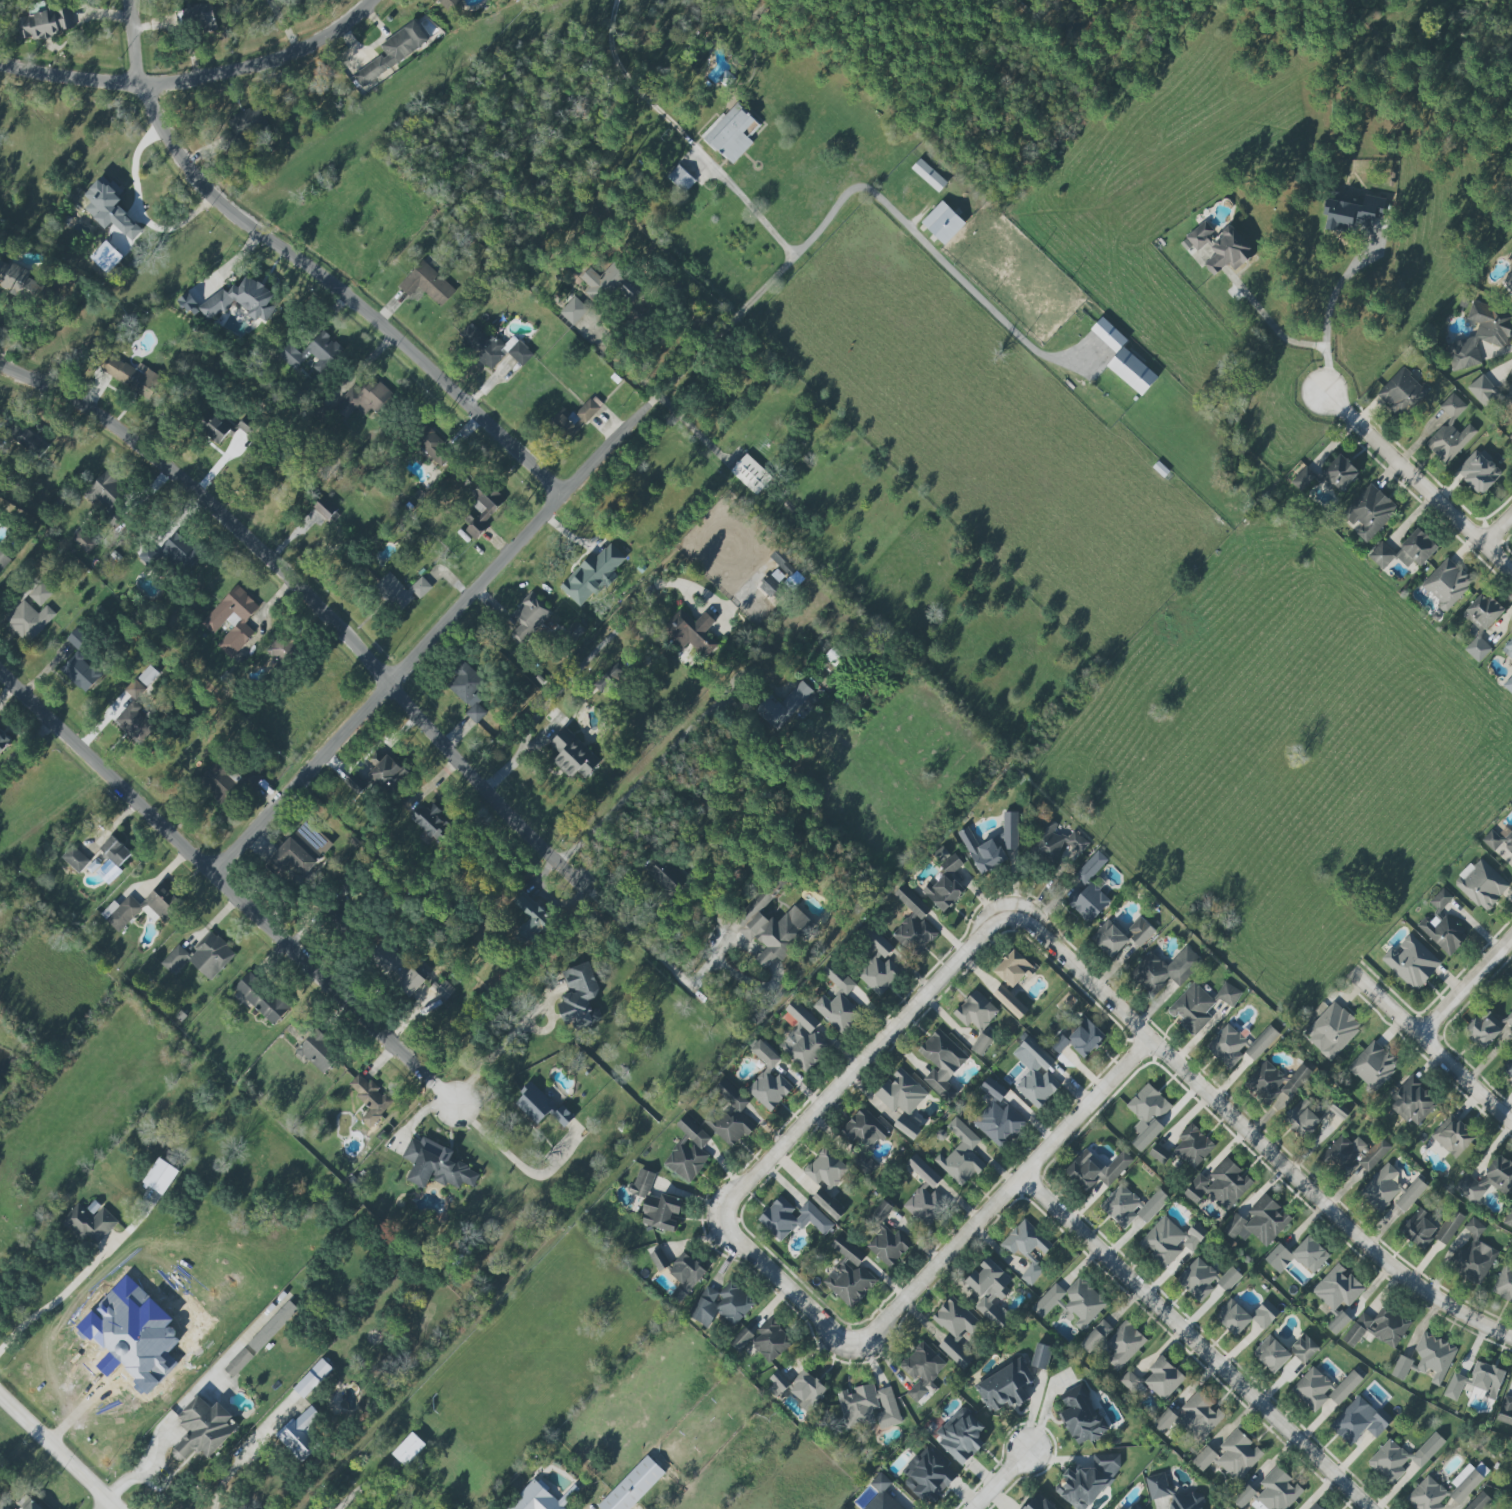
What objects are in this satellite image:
building: (447, 4)
building: (199, 18)
building: (44, 23)
road: (283, 25)
building: (393, 52)
road: (196, 76)
building: (247, 122)
building: (731, 133)
road: (685, 136)
road: (134, 164)
building: (928, 175)
building: (680, 178)
building: (110, 210)
building: (1352, 212)
building: (942, 222)
building: (1218, 247)
building: (1511, 253)
building: (106, 257)
road: (309, 269)
road: (953, 270)
building: (602, 281)
building: (1508, 281)
building: (19, 283)
building: (630, 291)
building: (241, 299)
building: (573, 310)
road: (1326, 313)
road: (1269, 324)
building: (1108, 334)
building: (1480, 335)
building: (492, 347)
building: (313, 353)
road: (623, 359)
road: (1502, 368)
building: (1131, 371)
building: (130, 375)
building: (1483, 391)
building: (1509, 392)
building: (1401, 393)
building: (363, 398)
building: (589, 409)
building: (245, 425)
building: (566, 425)
building: (214, 429)
building: (1449, 432)
building: (27, 439)
building: (434, 447)
building: (1478, 472)
building: (1339, 473)
building: (751, 474)
building: (1302, 479)
road: (1417, 480)
building: (106, 495)
building: (483, 509)
building: (1368, 512)
building: (470, 517)
road: (532, 529)
road: (1497, 529)
building: (83, 541)
building: (170, 551)
building: (1404, 551)
building: (3, 560)
building: (592, 575)
building: (778, 575)
building: (1446, 583)
building: (401, 591)
building: (40, 594)
road: (313, 601)
building: (528, 618)
building: (28, 620)
building: (232, 620)
building: (1481, 624)
building: (692, 631)
building: (77, 638)
building: (1508, 648)
building: (282, 650)
building: (81, 672)
road: (572, 672)
building: (148, 675)
building: (610, 678)
building: (1508, 684)
building: (134, 689)
building: (468, 691)
building: (787, 706)
building: (134, 722)
building: (3, 741)
building: (573, 755)
building: (386, 771)
building: (224, 782)
building: (355, 783)
road: (636, 784)
building: (431, 820)
building: (1010, 830)
building: (1055, 841)
building: (321, 843)
building: (115, 851)
building: (983, 852)
building: (293, 857)
building: (75, 859)
building: (951, 864)
building: (661, 879)
building: (1481, 884)
building: (1090, 889)
road: (227, 890)
building: (942, 892)
building: (142, 907)
building: (531, 917)
building: (910, 921)
building: (1442, 925)
building: (770, 930)
building: (1140, 931)
building: (1109, 939)
road: (650, 949)
building: (201, 957)
building: (1411, 962)
building: (878, 966)
building: (396, 968)
building: (1013, 969)
building: (1165, 969)
road: (1465, 984)
building: (445, 991)
building: (1227, 994)
building: (578, 995)
building: (262, 997)
building: (837, 1001)
building: (1010, 1002)
building: (1192, 1008)
building: (976, 1011)
building: (1508, 1019)
building: (1484, 1028)
building: (1332, 1030)
building: (1080, 1039)
building: (804, 1040)
building: (1261, 1043)
building: (980, 1044)
building: (1227, 1046)
road: (1432, 1047)
road: (498, 1050)
building: (318, 1051)
building: (1033, 1055)
road: (863, 1061)
building: (941, 1063)
building: (1373, 1065)
building: (1509, 1070)
building: (767, 1079)
building: (1037, 1086)
building: (901, 1092)
building: (370, 1098)
building: (1412, 1102)
building: (534, 1103)
building: (1338, 1110)
building: (729, 1115)
building: (1147, 1115)
building: (562, 1116)
building: (997, 1116)
building: (1302, 1118)
building: (906, 1127)
building: (865, 1128)
building: (1452, 1136)
road: (1251, 1141)
building: (1193, 1146)
building: (688, 1151)
road: (507, 1153)
building: (1356, 1153)
building: (960, 1154)
building: (1159, 1154)
building: (436, 1165)
building: (825, 1168)
building: (1096, 1169)
building: (160, 1176)
building: (1487, 1180)
building: (1219, 1185)
building: (1390, 1190)
building: (922, 1191)
road: (1003, 1198)
building: (828, 1203)
building: (656, 1204)
building: (1131, 1206)
building: (1508, 1217)
building: (792, 1219)
building: (1258, 1222)
building: (90, 1223)
building: (1449, 1227)
building: (1419, 1230)
building: (885, 1237)
building: (1169, 1240)
building: (1026, 1248)
building: (1474, 1255)
building: (1298, 1256)
building: (658, 1259)
building: (686, 1271)
building: (848, 1276)
building: (1205, 1279)
road: (784, 1283)
building: (1503, 1283)
building: (1337, 1288)
building: (989, 1291)
road: (57, 1297)
building: (143, 1299)
building: (1048, 1300)
building: (1083, 1302)
building: (721, 1305)
building: (1245, 1316)
building: (198, 1322)
building: (1338, 1323)
building: (1378, 1328)
building: (955, 1329)
building: (1095, 1336)
building: (260, 1339)
building: (741, 1339)
building: (770, 1341)
building: (1124, 1344)
road: (1195, 1344)
building: (1304, 1348)
building: (1271, 1354)
building: (1041, 1356)
building: (1433, 1356)
building: (1400, 1367)
building: (921, 1370)
building: (312, 1378)
building: (1163, 1378)
building: (1476, 1381)
building: (1131, 1383)
building: (1004, 1386)
building: (1345, 1387)
building: (798, 1388)
road: (97, 1389)
building: (1312, 1389)
building: (867, 1406)
building: (1505, 1409)
building: (1081, 1416)
building: (1199, 1416)
building: (1165, 1421)
building: (1359, 1421)
building: (202, 1429)
building: (301, 1432)
building: (960, 1435)
building: (408, 1449)
road: (58, 1452)
building: (1238, 1455)
building: (1402, 1457)
building: (1203, 1458)
building: (928, 1476)
road: (226, 1478)
road: (997, 1480)
building: (1088, 1481)
building: (633, 1486)
building: (1157, 1486)
building: (1278, 1490)
building: (1443, 1490)
building: (881, 1495)
building: (1243, 1496)
building: (539, 1498)
building: (1185, 1501)
building: (1479, 1501)
building: (1039, 1503)
building: (3, 1506)
building: (31, 1506)
building: (1134, 1506)
building: (1315, 1507)
road: (114, 1508)
building: (1119, 1508)

